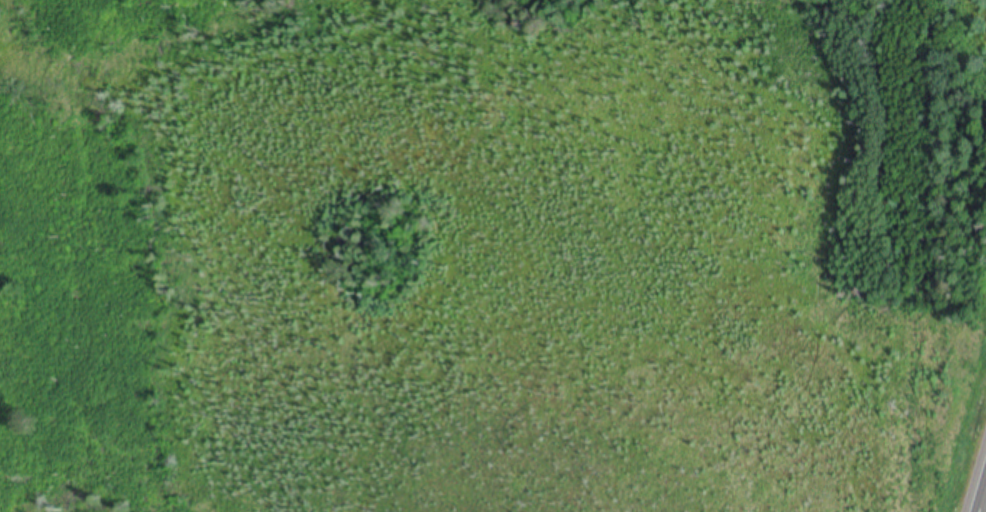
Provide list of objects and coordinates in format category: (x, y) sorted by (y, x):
road: (981, 497)

